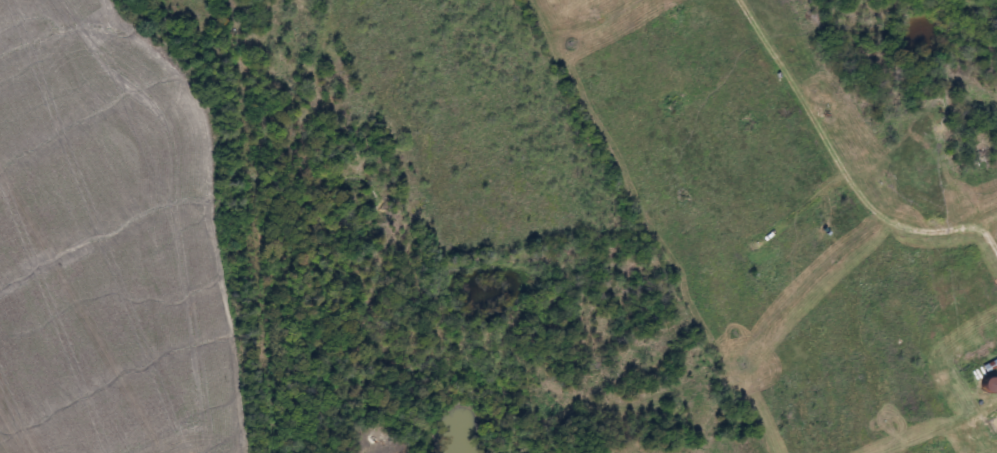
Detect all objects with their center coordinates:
road: (968, 416)

